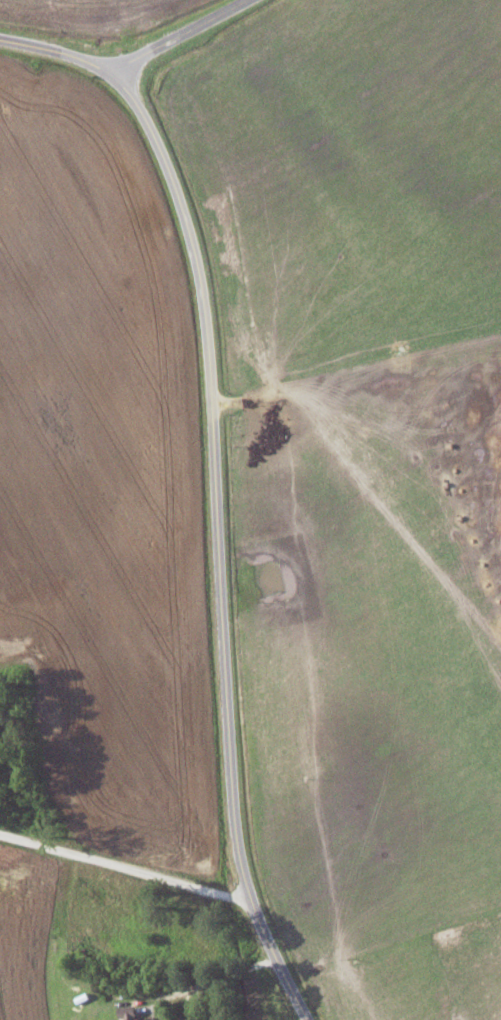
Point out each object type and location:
road: (178, 36)
road: (217, 483)
road: (126, 867)
building: (130, 1014)

